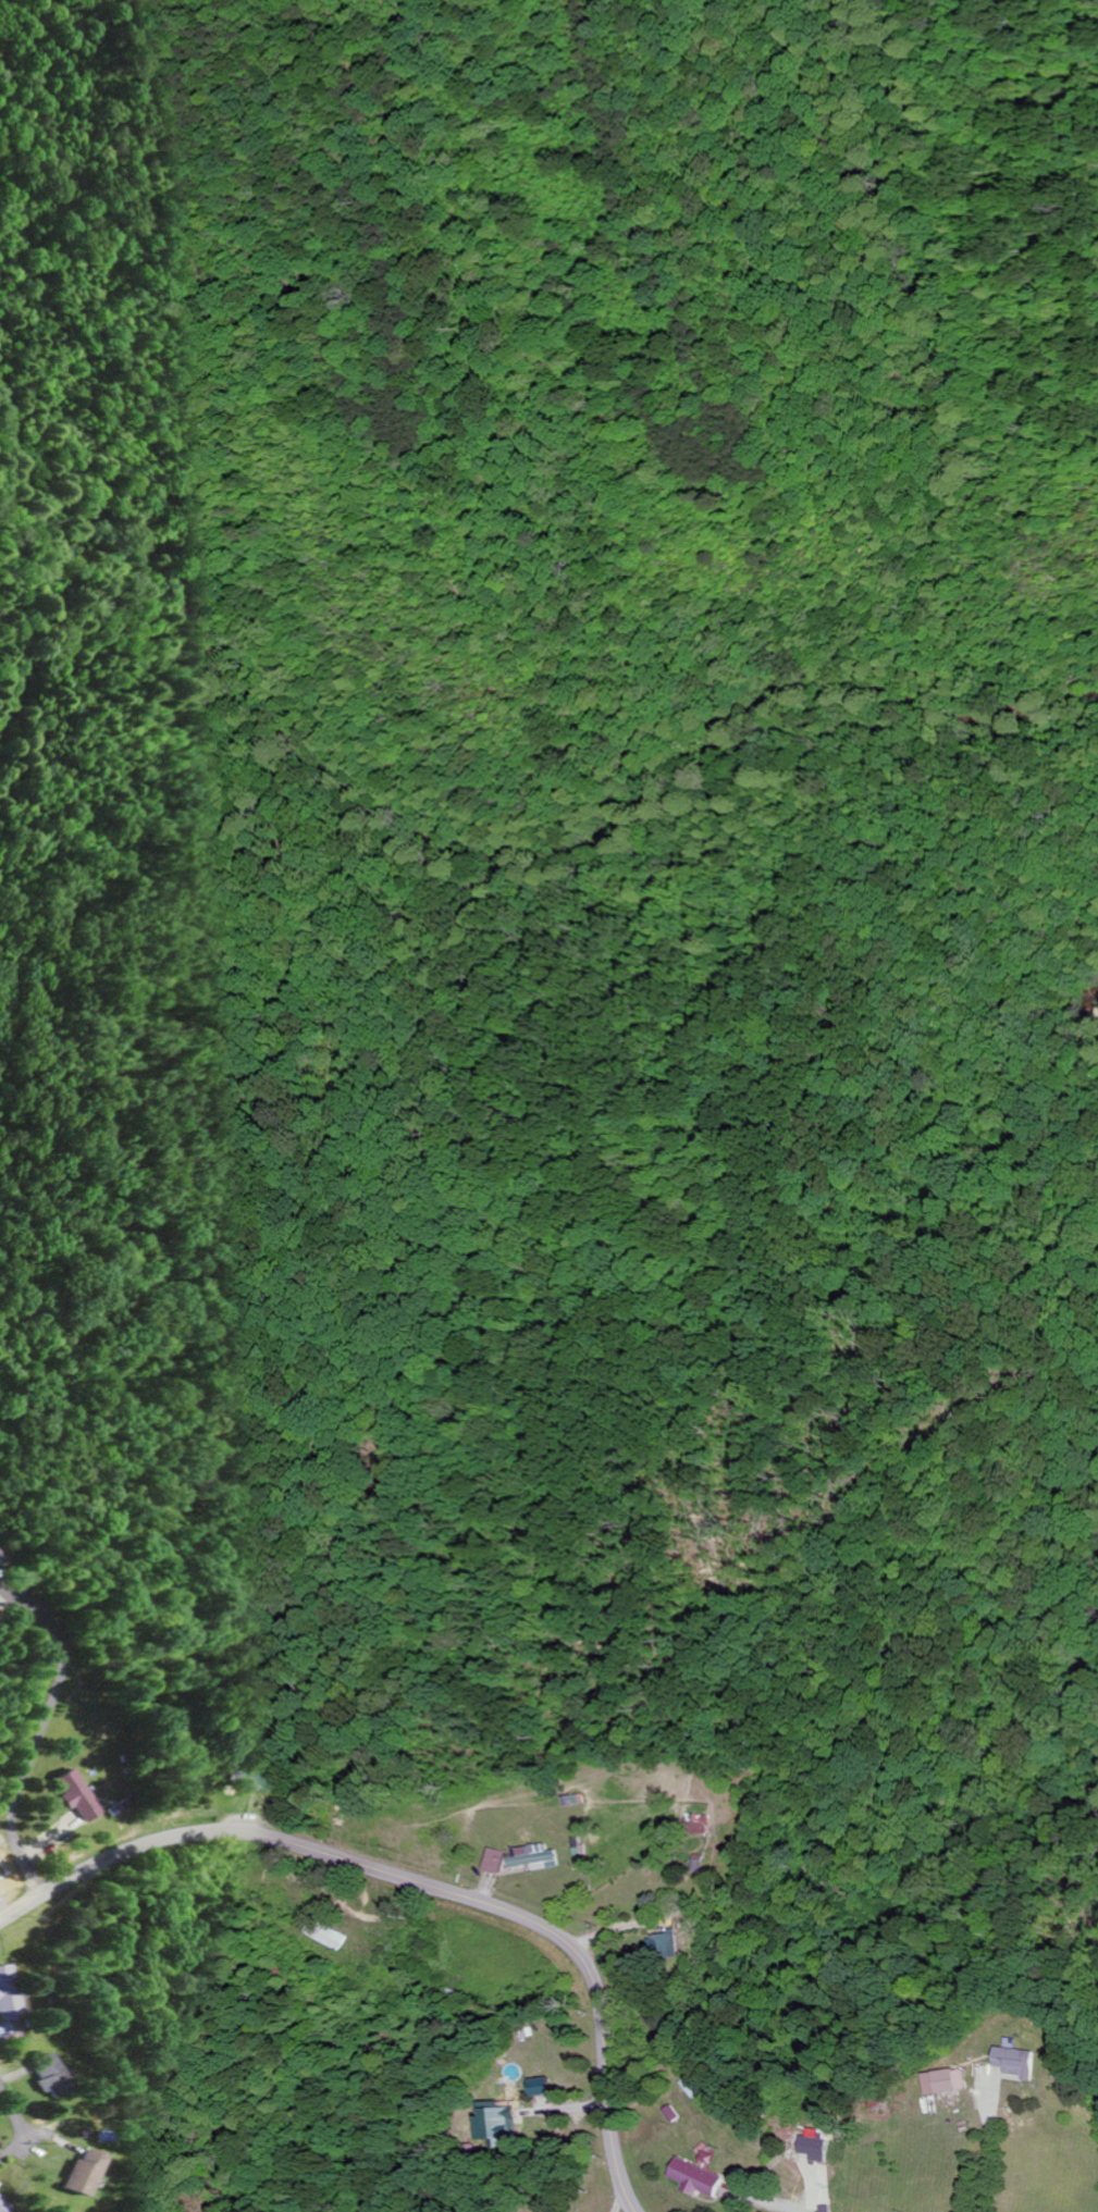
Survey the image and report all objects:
building: (0, 1554)
road: (36, 1740)
building: (232, 1779)
building: (71, 1796)
building: (701, 1825)
building: (534, 1855)
building: (496, 1861)
road: (416, 1883)
building: (666, 1945)
building: (2, 1999)
building: (1022, 2062)
building: (33, 2077)
building: (949, 2081)
building: (540, 2086)
building: (499, 2124)
road: (9, 2127)
building: (818, 2145)
road: (995, 2145)
building: (66, 2173)
building: (699, 2178)
road: (625, 2202)
building: (0, 2208)

